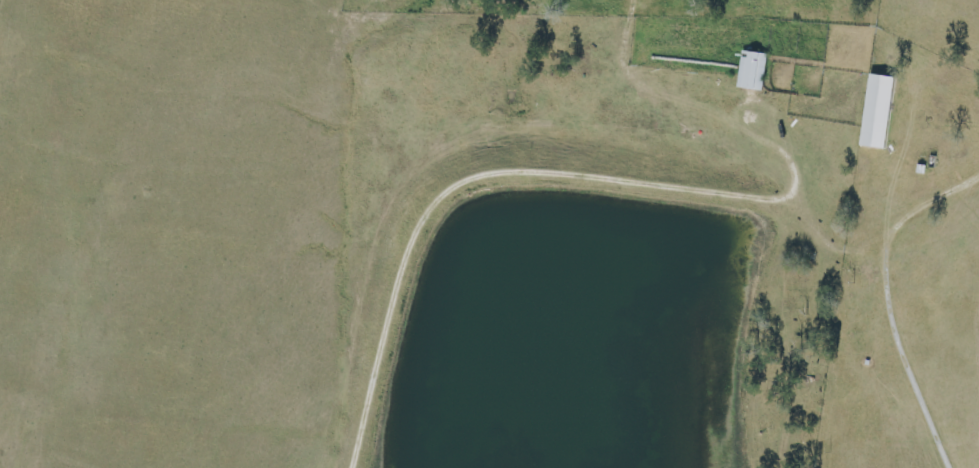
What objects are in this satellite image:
building: (755, 70)
building: (882, 111)

